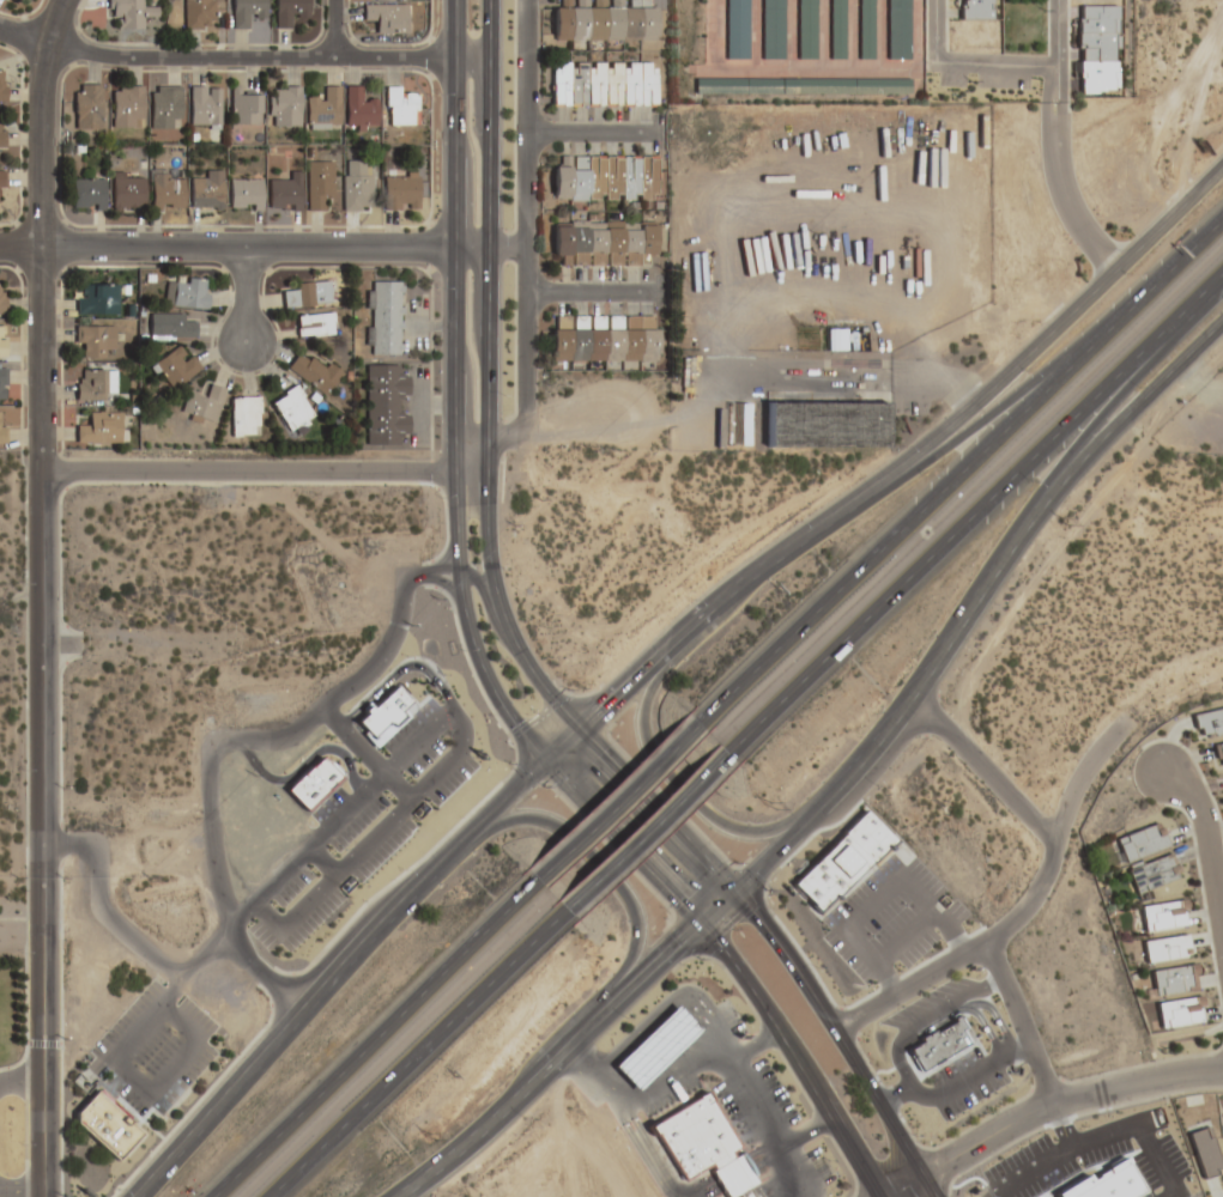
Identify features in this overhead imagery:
building: (14, 1)
building: (975, 10)
building: (131, 12)
building: (246, 12)
building: (289, 12)
building: (199, 14)
building: (387, 17)
building: (603, 20)
road: (331, 29)
building: (734, 29)
building: (770, 29)
building: (804, 29)
building: (836, 29)
building: (865, 29)
building: (896, 29)
road: (931, 32)
road: (222, 56)
road: (992, 65)
building: (1096, 77)
building: (8, 83)
building: (604, 84)
building: (801, 86)
building: (87, 105)
building: (126, 105)
building: (244, 105)
building: (283, 105)
building: (164, 107)
building: (204, 107)
road: (1171, 107)
building: (399, 108)
building: (323, 109)
building: (361, 109)
road: (449, 122)
road: (586, 134)
building: (0, 136)
road: (1051, 145)
building: (604, 177)
building: (1, 178)
building: (317, 182)
building: (356, 186)
building: (127, 190)
building: (167, 190)
building: (206, 190)
building: (400, 190)
building: (244, 193)
building: (283, 193)
building: (87, 194)
building: (601, 242)
road: (261, 247)
road: (523, 254)
road: (592, 288)
building: (184, 292)
building: (308, 293)
road: (242, 296)
building: (1, 298)
building: (97, 298)
building: (383, 317)
building: (315, 324)
building: (171, 326)
building: (604, 338)
building: (1, 340)
building: (95, 340)
road: (1028, 352)
road: (450, 360)
building: (175, 366)
building: (314, 371)
road: (484, 377)
building: (1, 382)
building: (93, 384)
building: (202, 403)
building: (386, 405)
building: (291, 408)
road: (1100, 411)
building: (244, 415)
building: (830, 424)
road: (1112, 425)
building: (99, 427)
road: (958, 436)
road: (958, 467)
road: (262, 473)
road: (974, 514)
power tower: (1065, 523)
road: (424, 573)
road: (476, 582)
road: (41, 594)
road: (696, 619)
road: (465, 626)
building: (386, 718)
building: (1209, 723)
road: (884, 725)
road: (558, 743)
road: (212, 745)
building: (1219, 753)
road: (23, 765)
road: (673, 782)
road: (617, 801)
power tower: (769, 806)
road: (658, 808)
road: (339, 816)
road: (1210, 824)
road: (646, 831)
building: (1139, 843)
road: (595, 868)
building: (1152, 874)
road: (874, 895)
road: (97, 906)
building: (1161, 916)
road: (12, 919)
road: (994, 929)
building: (1166, 948)
road: (202, 954)
road: (728, 961)
road: (334, 978)
road: (908, 979)
building: (1173, 979)
building: (1179, 1013)
road: (922, 1017)
road: (844, 1035)
road: (371, 1037)
road: (756, 1040)
road: (567, 1046)
building: (659, 1050)
gas station: (659, 1050)
road: (417, 1052)
road: (714, 1061)
road: (1042, 1075)
road: (137, 1080)
road: (20, 1082)
road: (1052, 1111)
building: (108, 1128)
road: (807, 1128)
power tower: (426, 1137)
building: (707, 1147)
building: (1205, 1152)
road: (20, 1191)
road: (41, 1195)
road: (42, 1195)

